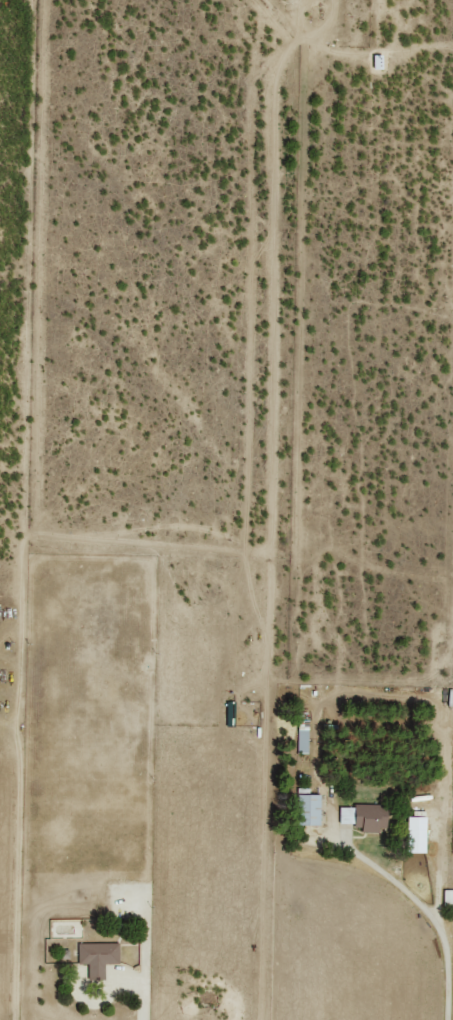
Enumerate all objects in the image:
building: (303, 739)
building: (307, 808)
building: (363, 816)
building: (414, 833)
road: (15, 836)
building: (447, 896)
building: (96, 957)

